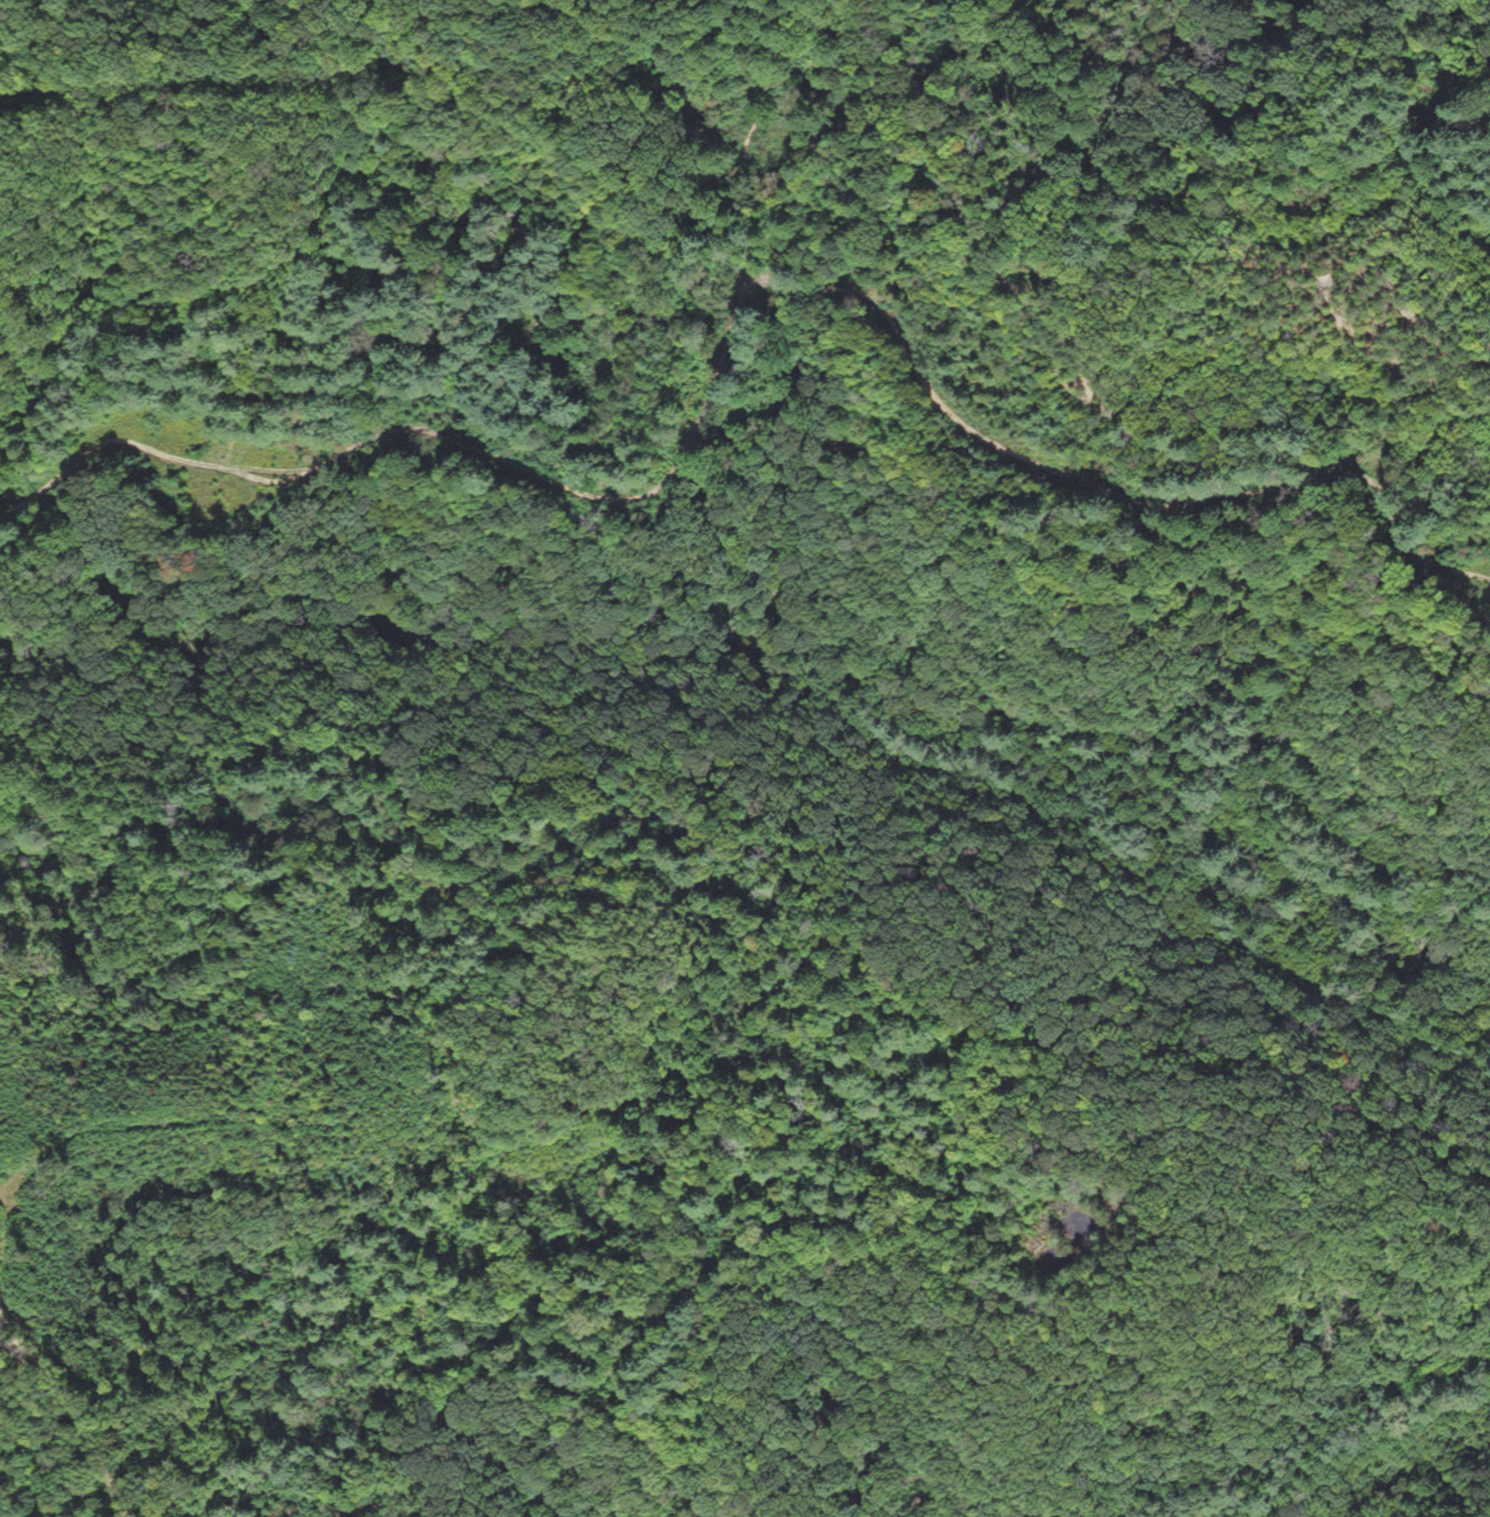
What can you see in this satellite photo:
road: (1056, 252)
road: (61, 1447)

